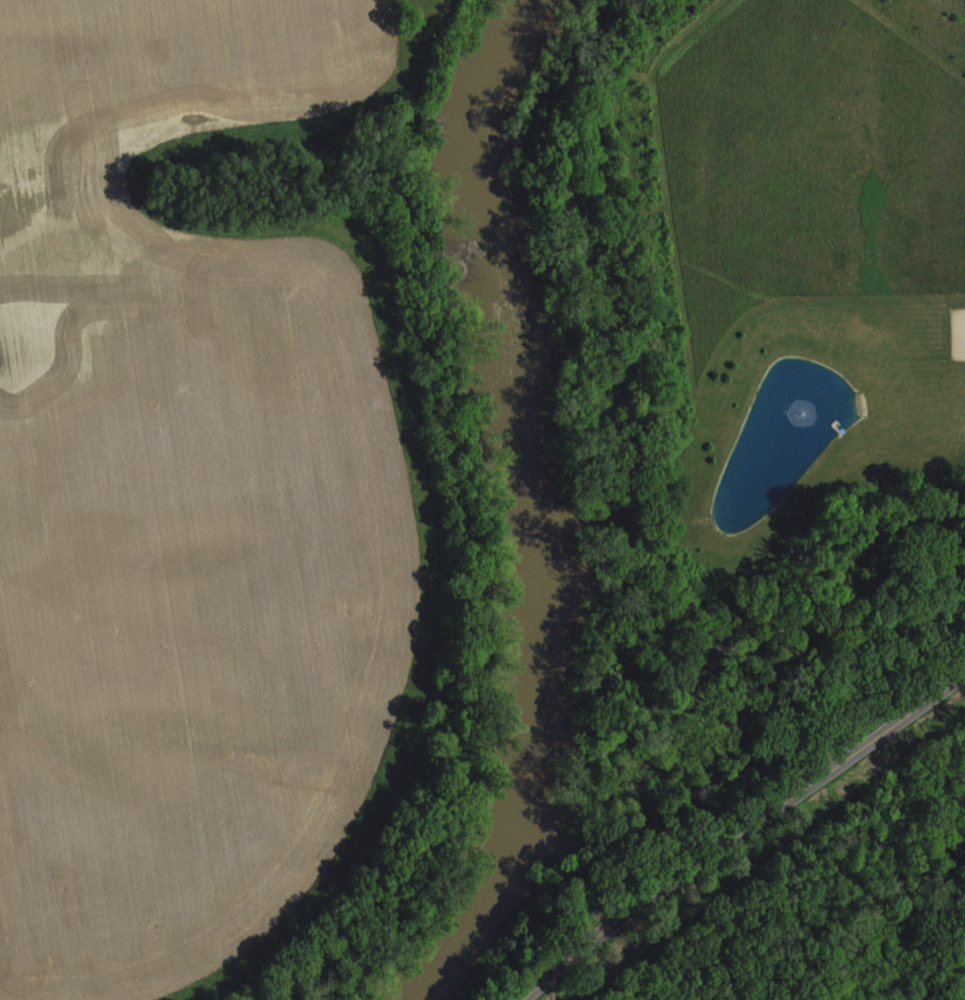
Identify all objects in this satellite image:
river: (546, 505)
road: (738, 832)

